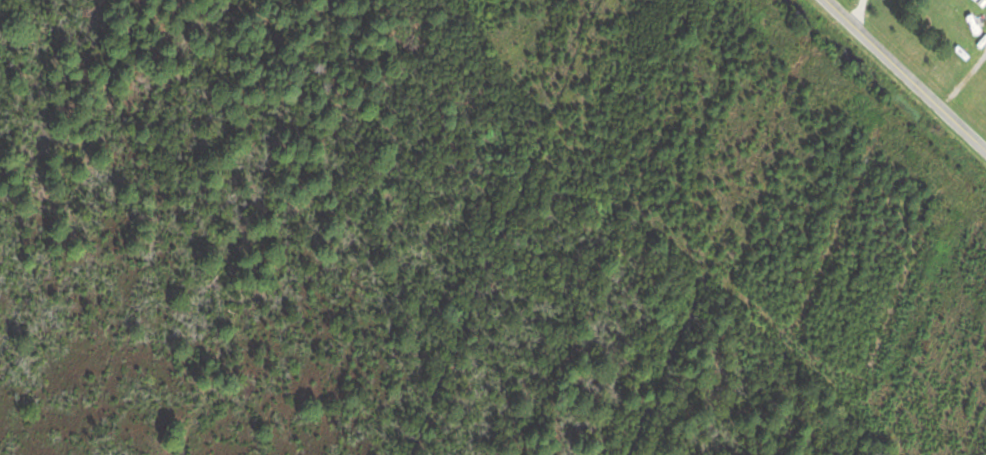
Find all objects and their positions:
building: (977, 2)
road: (908, 74)

